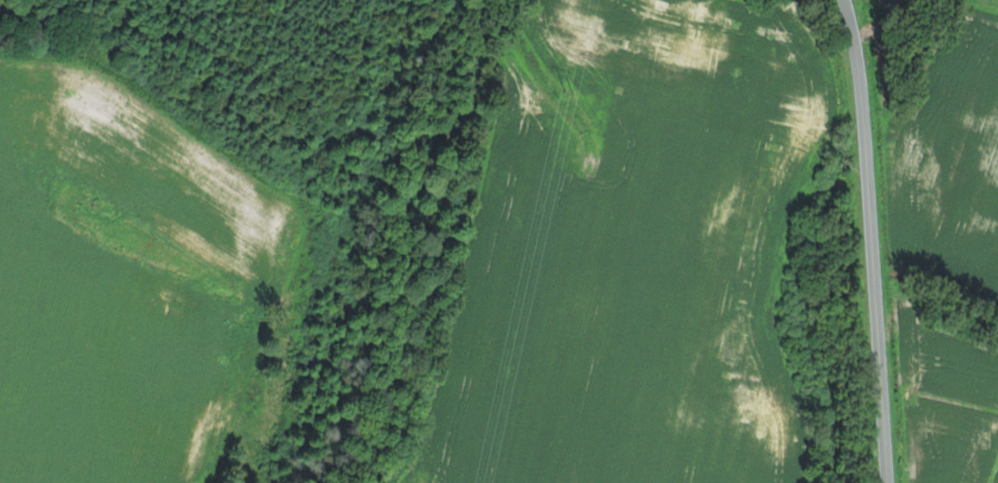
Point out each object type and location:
power tower: (568, 93)
road: (872, 241)

